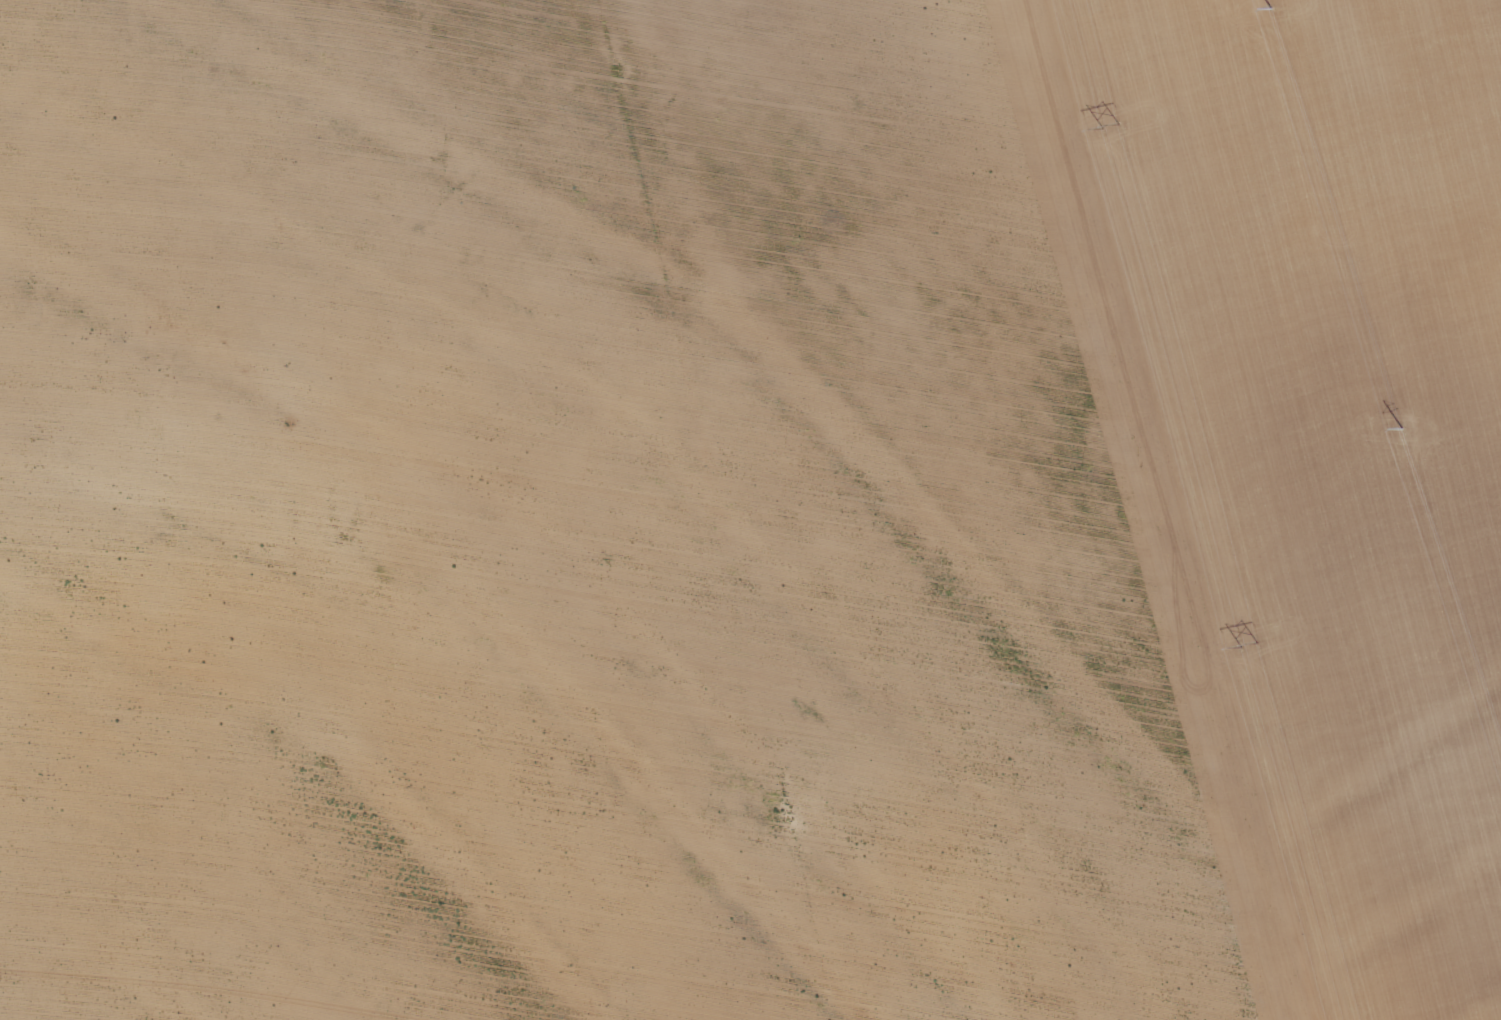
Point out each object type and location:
power tower: (1271, 9)
power tower: (1118, 125)
power tower: (1401, 429)
road: (1165, 512)
power tower: (1251, 644)

